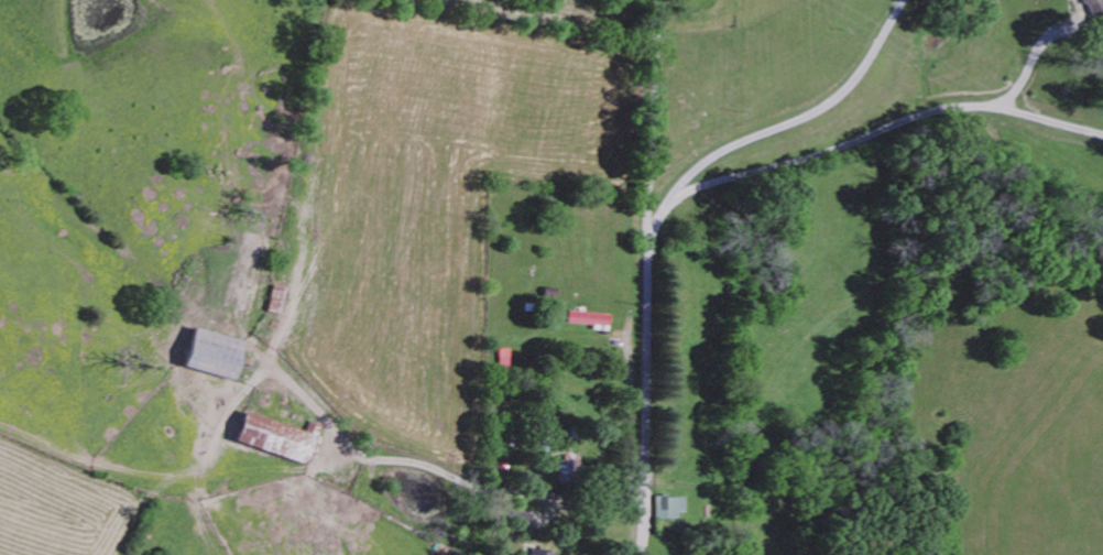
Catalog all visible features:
building: (1092, 7)
road: (660, 14)
road: (1030, 55)
road: (798, 122)
road: (865, 135)
road: (651, 293)
building: (588, 317)
building: (210, 352)
building: (276, 436)
road: (488, 491)
building: (670, 505)
building: (520, 519)
building: (542, 552)

